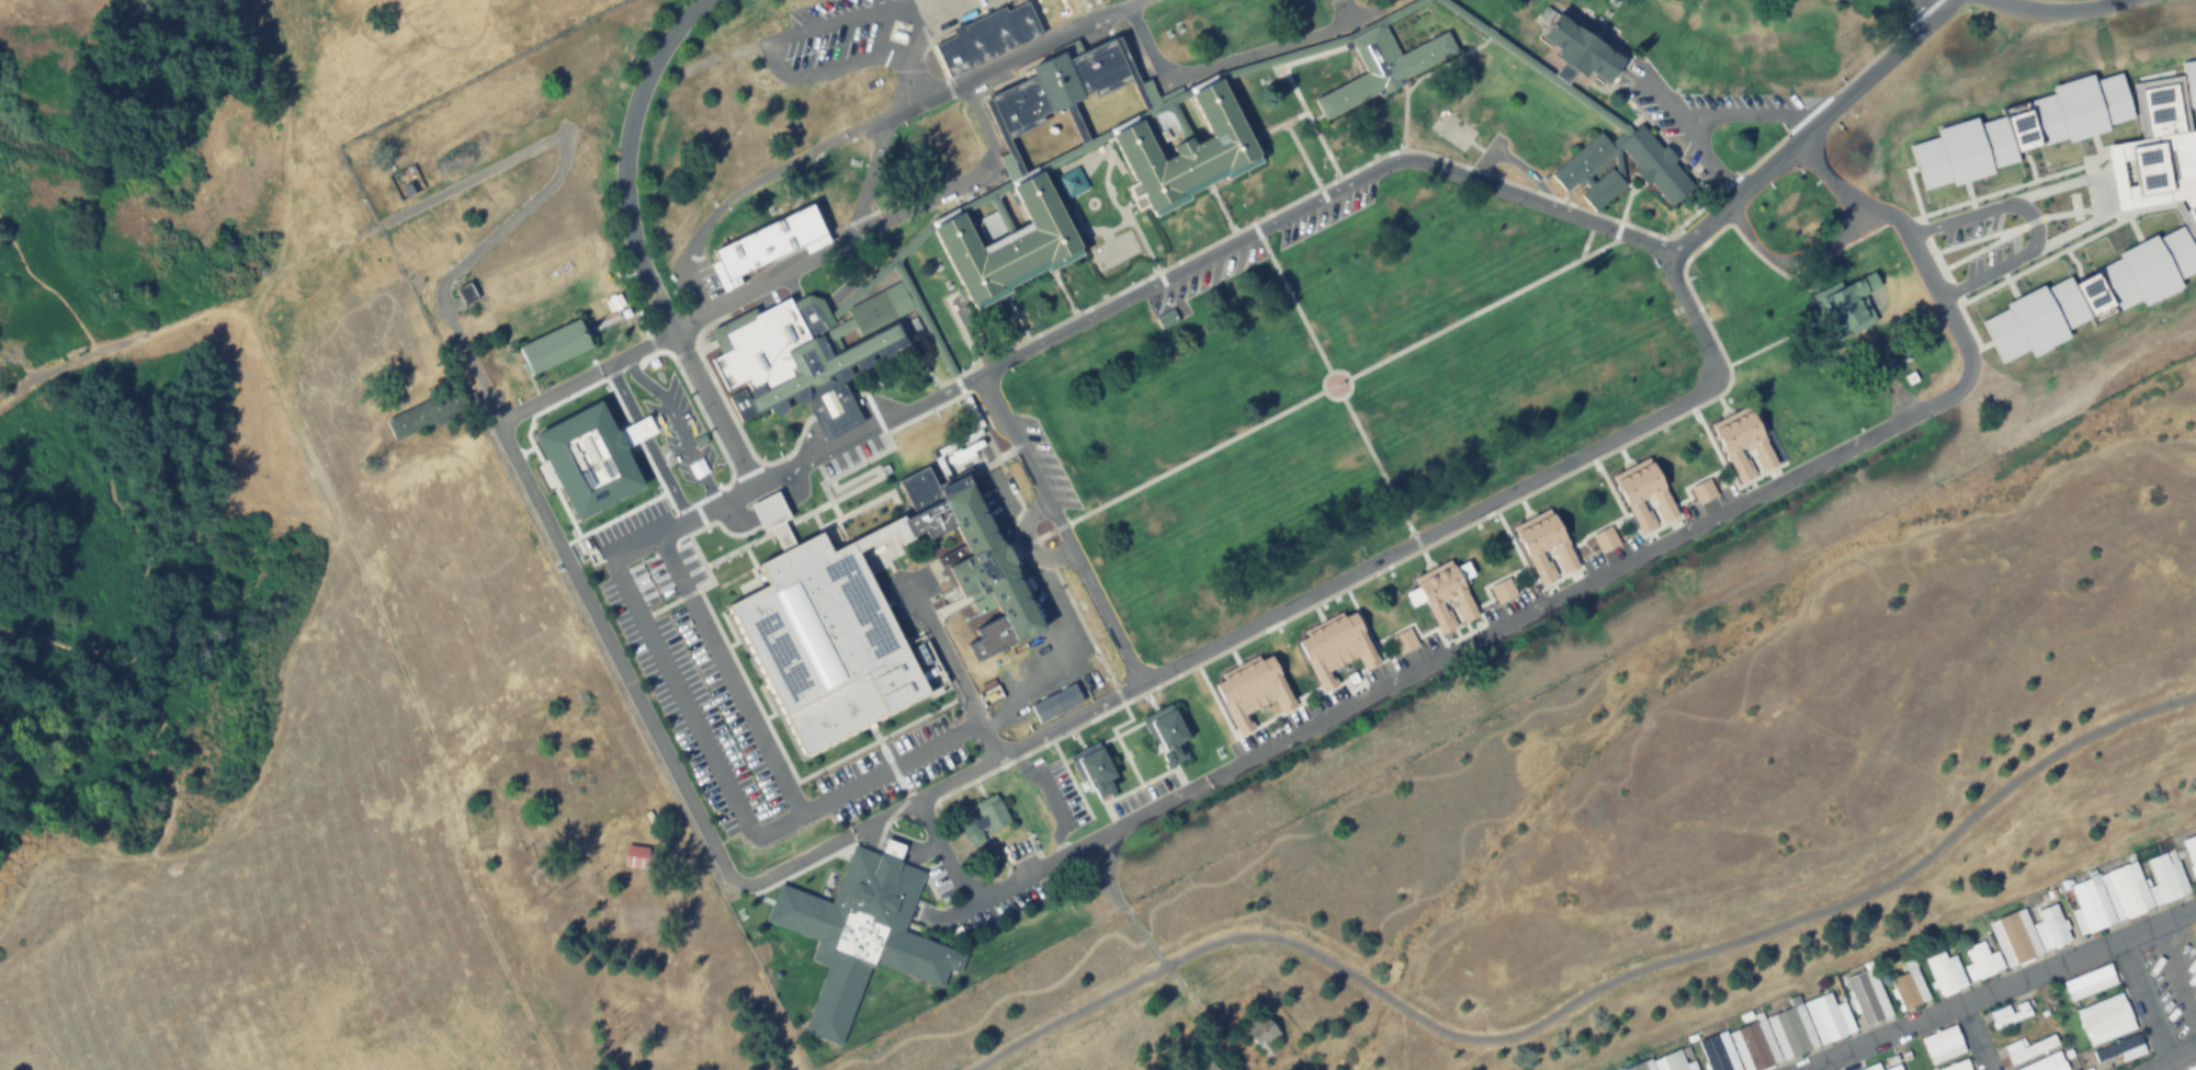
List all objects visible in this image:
road: (822, 23)
building: (985, 38)
building: (1580, 52)
road: (1221, 66)
road: (1536, 66)
building: (1381, 67)
road: (1867, 73)
building: (1059, 84)
road: (1141, 94)
road: (1179, 118)
road: (1076, 123)
road: (890, 125)
road: (1110, 132)
building: (1188, 153)
road: (793, 162)
building: (1656, 164)
building: (1758, 178)
road: (2047, 182)
road: (958, 186)
road: (1531, 202)
road: (1000, 213)
water tower: (2187, 215)
building: (1010, 244)
building: (768, 246)
building: (1901, 275)
road: (48, 281)
road: (236, 293)
building: (466, 293)
building: (1852, 305)
building: (1166, 318)
building: (561, 343)
building: (806, 344)
road: (43, 371)
road: (958, 384)
building: (0, 392)
building: (1994, 400)
building: (831, 408)
building: (422, 414)
road: (925, 426)
building: (1746, 444)
road: (728, 459)
building: (1705, 492)
building: (1646, 494)
road: (1488, 505)
road: (118, 517)
building: (1547, 545)
building: (975, 560)
building: (1503, 591)
building: (1445, 594)
park: (296, 600)
road: (1538, 608)
building: (1403, 642)
building: (824, 647)
building: (1336, 652)
road: (401, 681)
building: (1250, 691)
road: (149, 698)
road: (1112, 698)
parking lot: (736, 701)
building: (1166, 732)
building: (1093, 769)
park: (1694, 805)
road: (233, 806)
building: (983, 818)
building: (1008, 852)
building: (2191, 854)
building: (634, 857)
road: (1107, 860)
building: (2127, 892)
building: (2050, 927)
building: (2013, 938)
road: (1154, 954)
building: (1981, 961)
building: (1945, 974)
building: (2090, 982)
building: (1909, 988)
road: (2000, 991)
road: (1587, 992)
building: (1868, 998)
road: (2142, 999)
building: (2010, 1013)
building: (2105, 1018)
building: (1261, 1034)
building: (1779, 1036)
road: (1400, 1037)
road: (1973, 1039)
building: (1943, 1045)
building: (2028, 1048)
building: (2118, 1051)
road: (2170, 1055)
building: (1668, 1062)
building: (2046, 1063)
building: (1202, 1065)
road: (1821, 1066)
building: (1893, 1066)
building: (2191, 1068)

